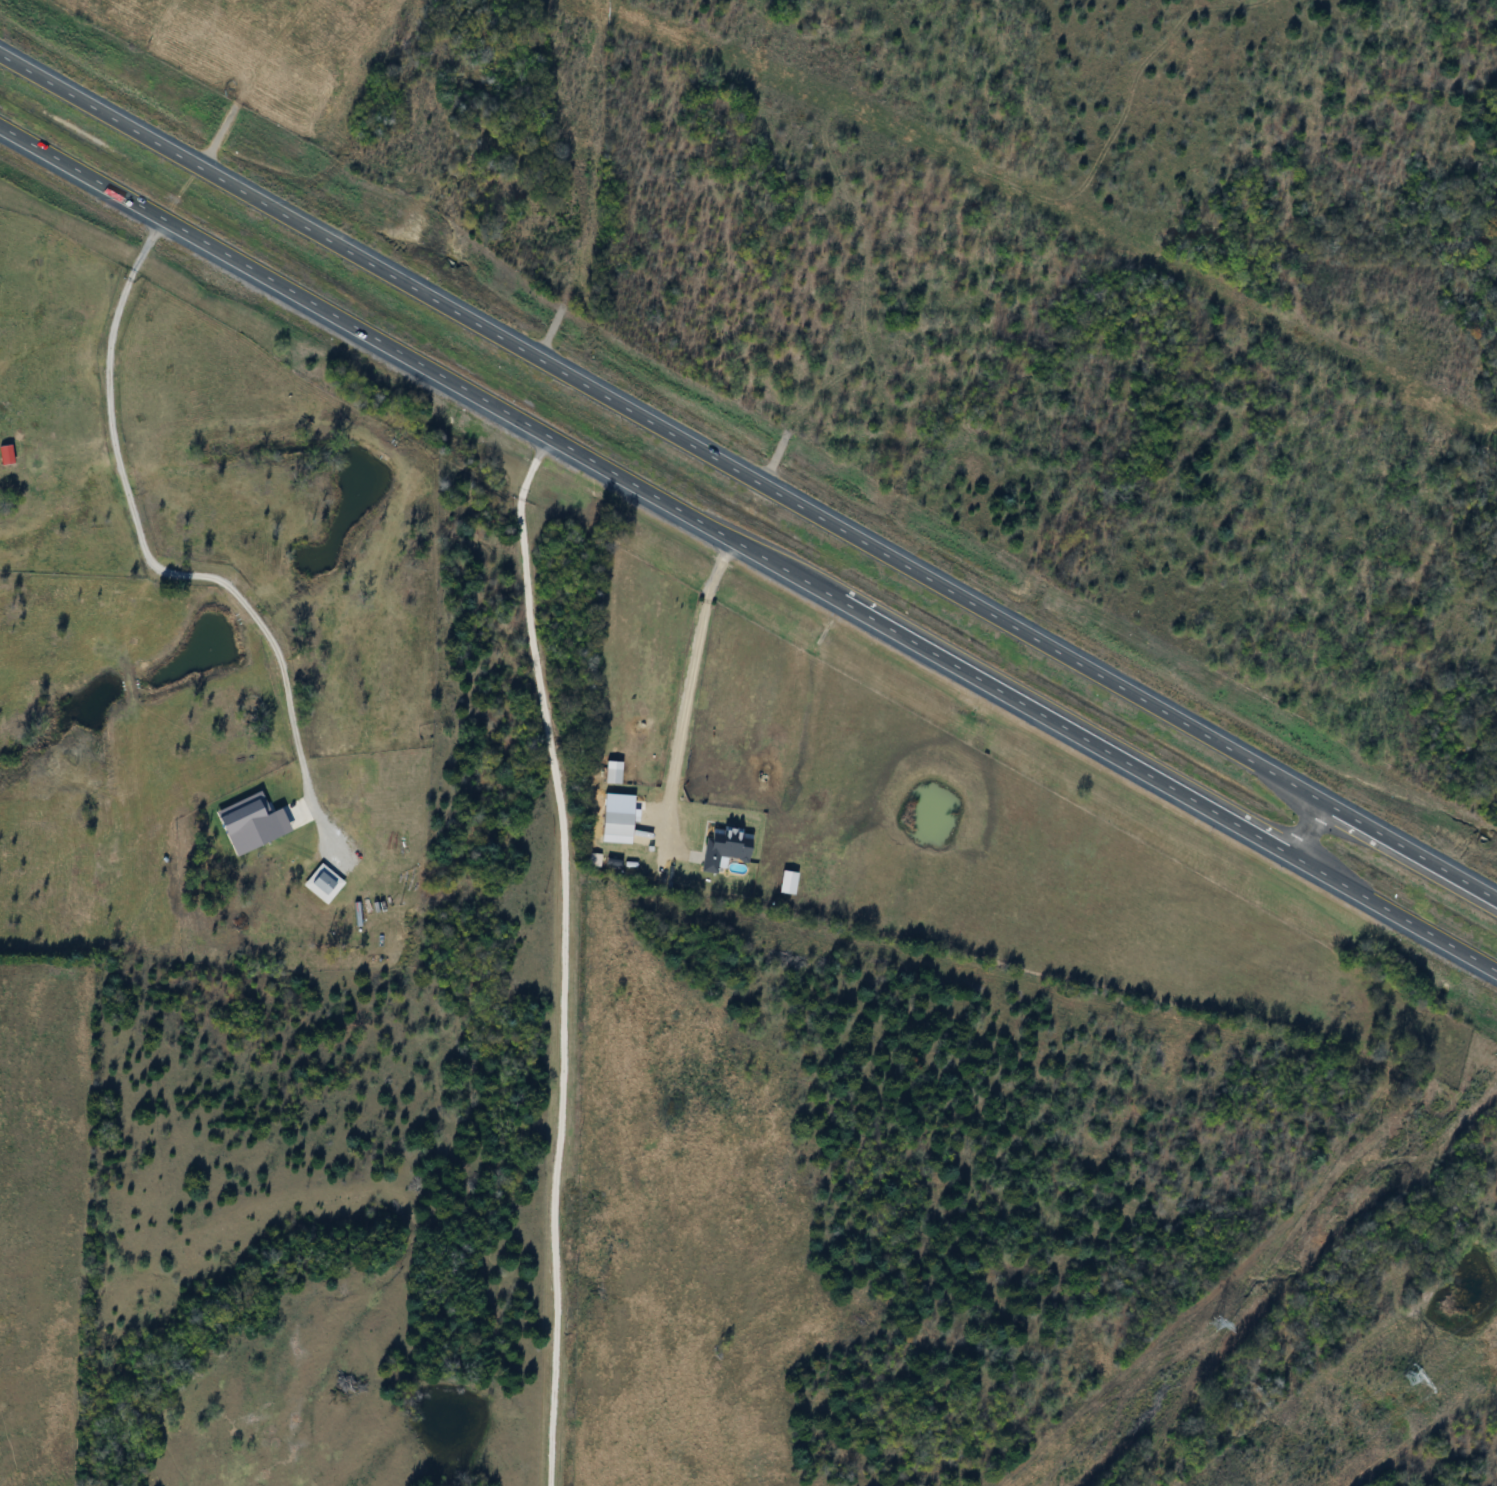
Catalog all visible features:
road: (747, 474)
road: (748, 547)
road: (160, 568)
road: (690, 694)
building: (608, 776)
building: (611, 825)
road: (1313, 827)
building: (718, 849)
road: (553, 954)
power tower: (1489, 1055)
power tower: (1196, 1325)
power tower: (1406, 1378)

